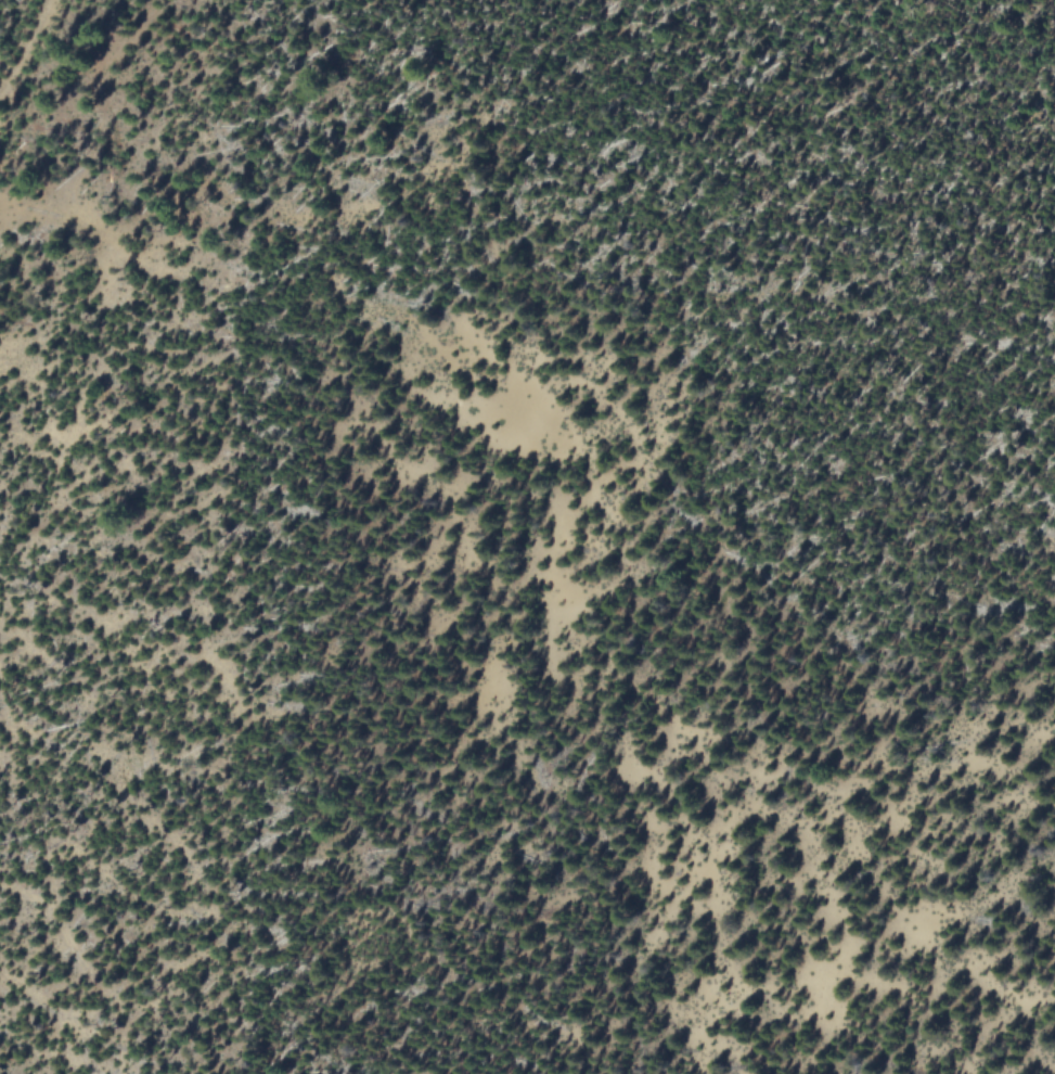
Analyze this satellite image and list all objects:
road: (10, 90)

